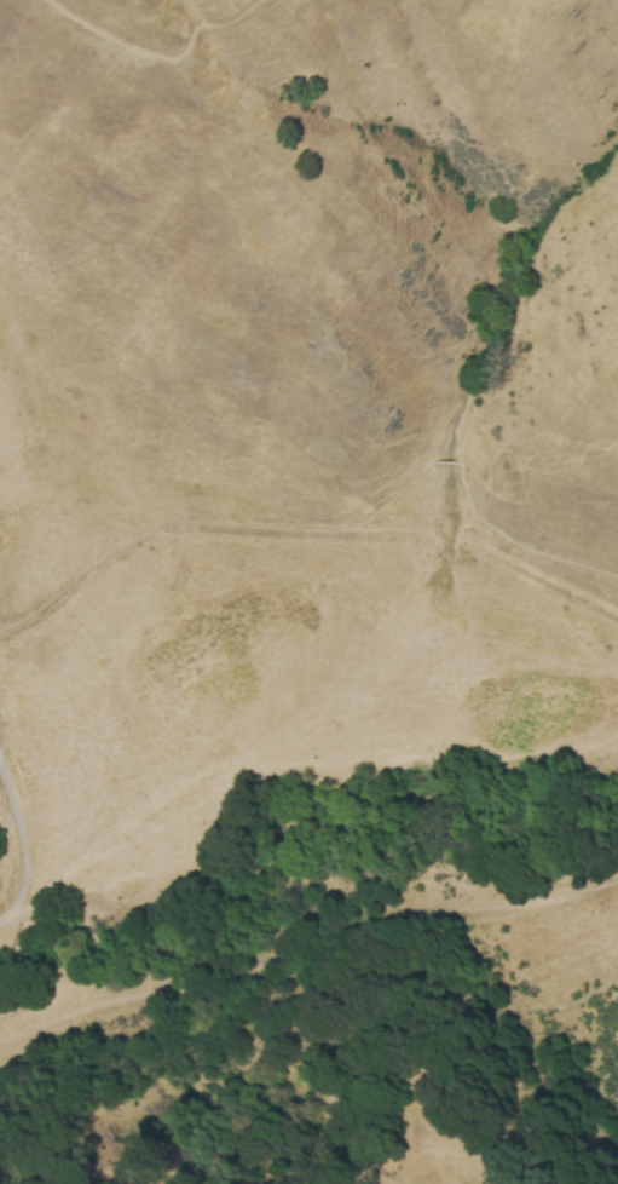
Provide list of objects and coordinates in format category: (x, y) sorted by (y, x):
road: (163, 57)
road: (445, 462)
road: (213, 524)
road: (515, 544)
road: (1, 745)
road: (19, 845)
road: (305, 946)
road: (334, 1073)

